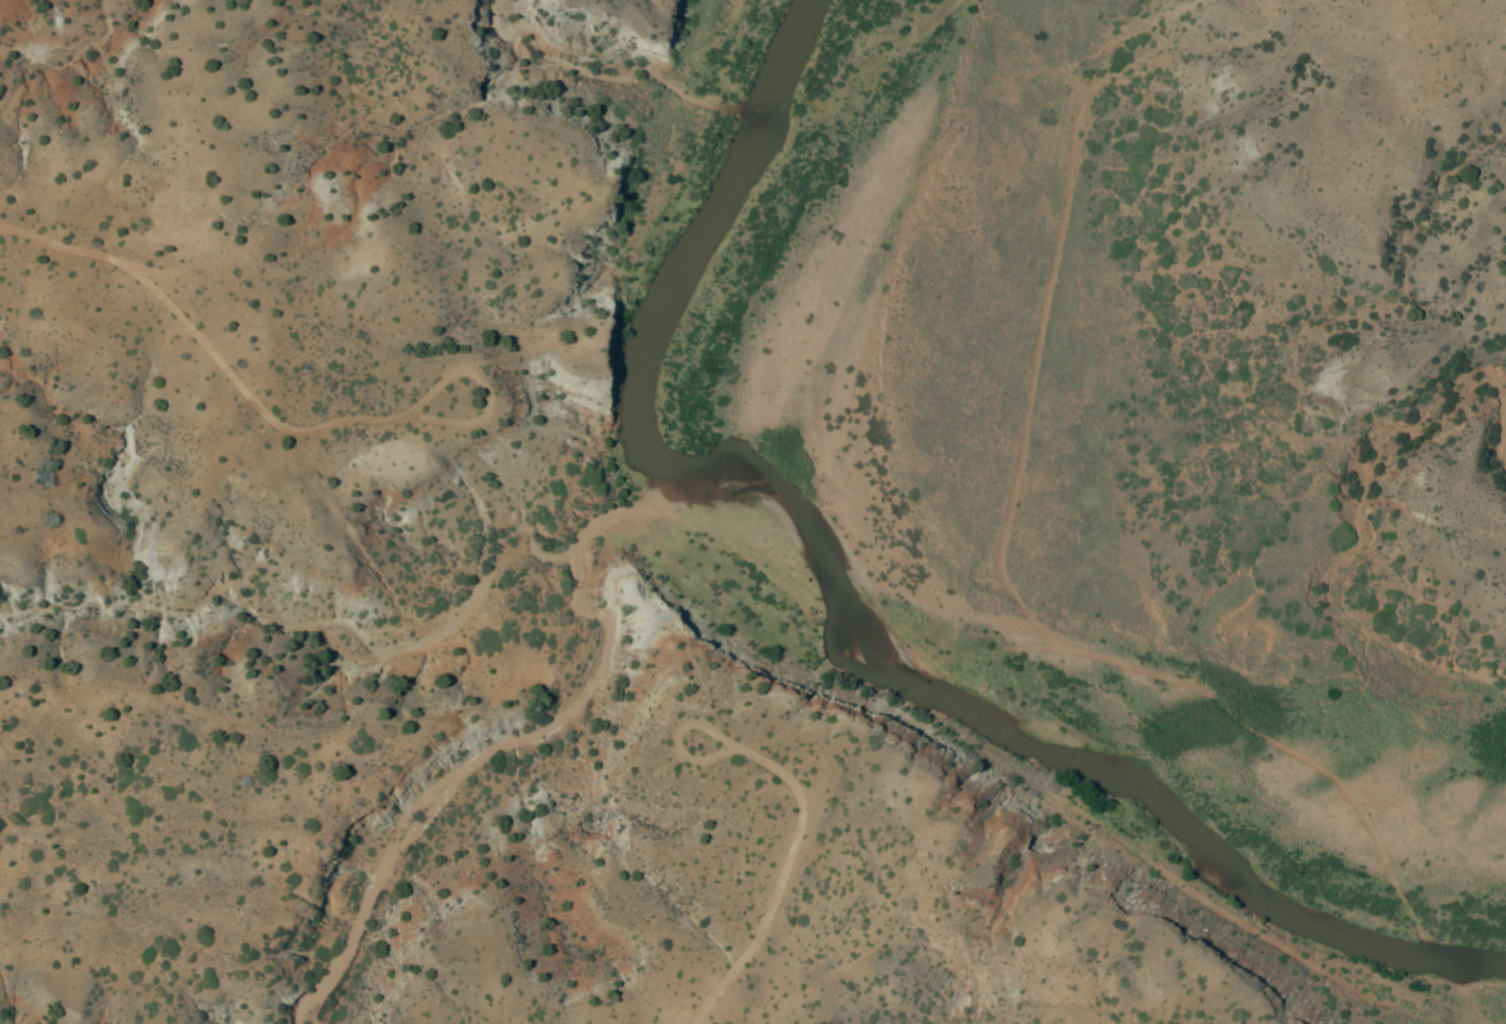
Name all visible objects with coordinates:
river: (845, 613)
road: (758, 923)

